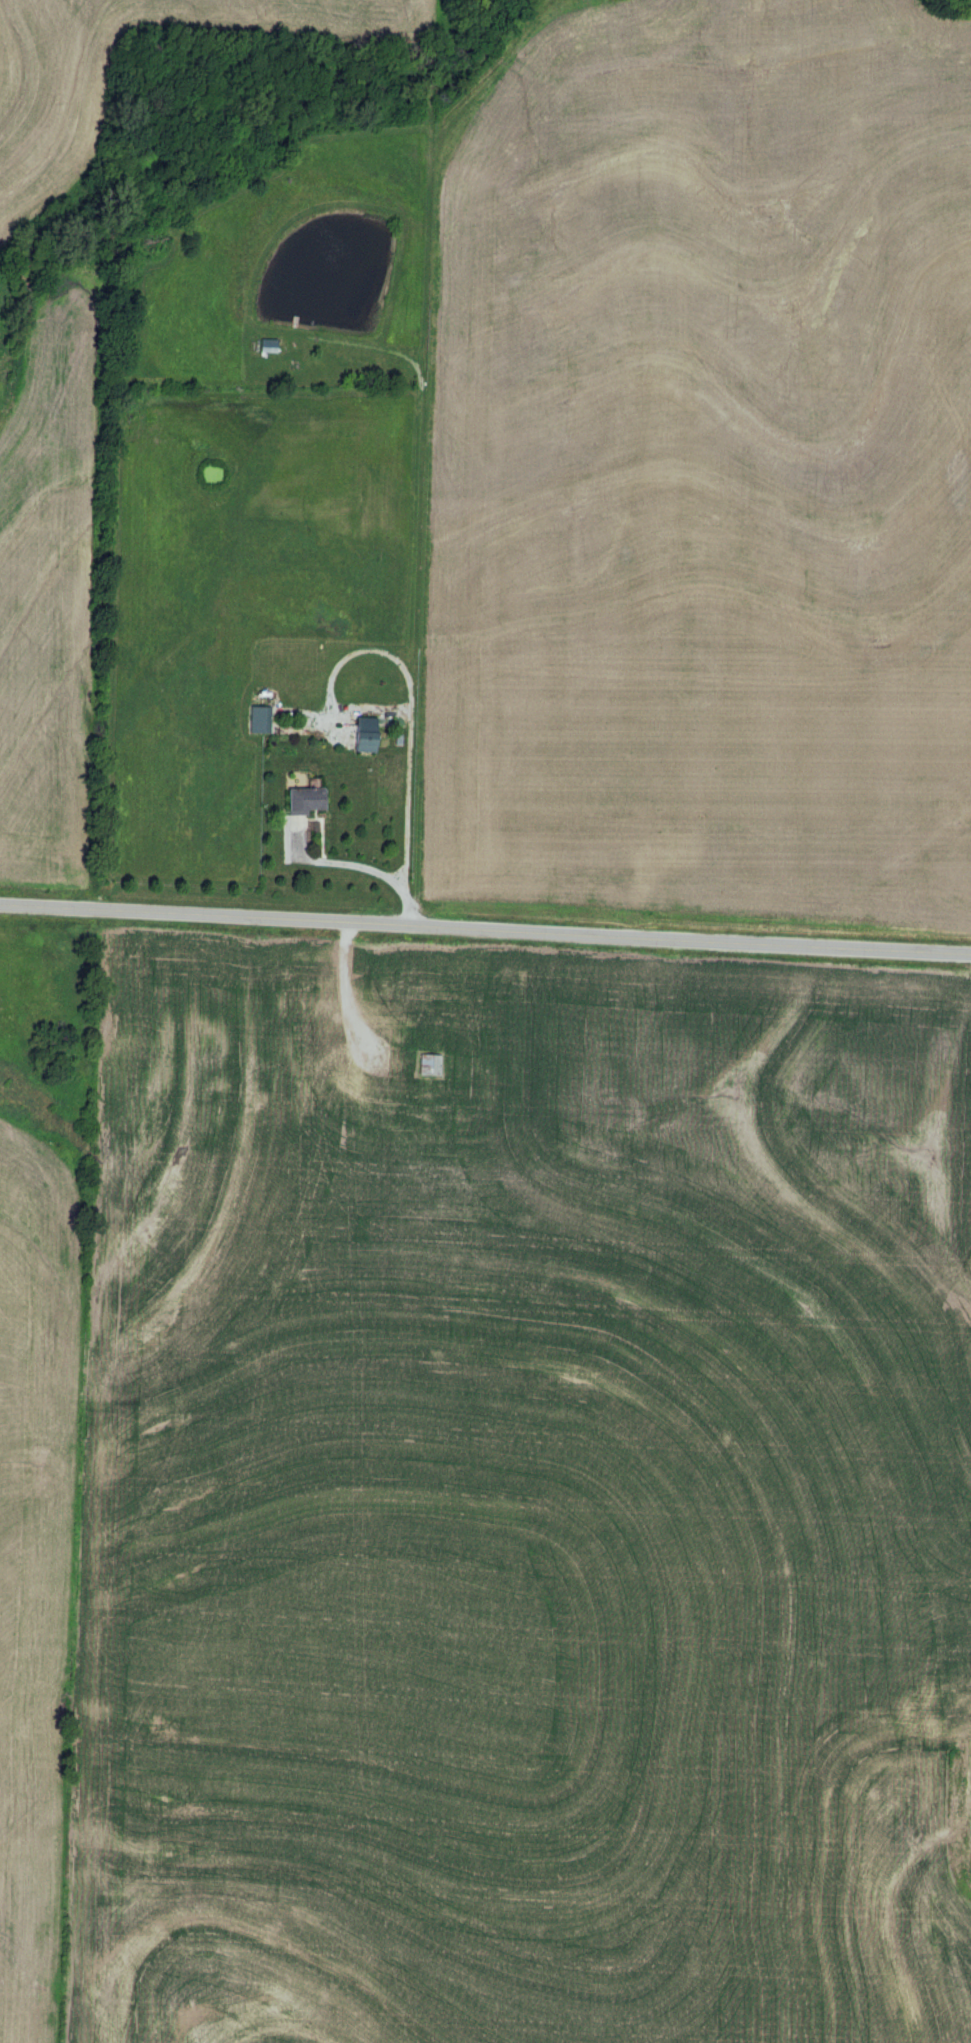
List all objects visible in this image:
road: (405, 707)
building: (254, 720)
building: (362, 735)
building: (301, 800)
road: (354, 866)
road: (485, 924)
building: (347, 1059)
building: (427, 1065)

